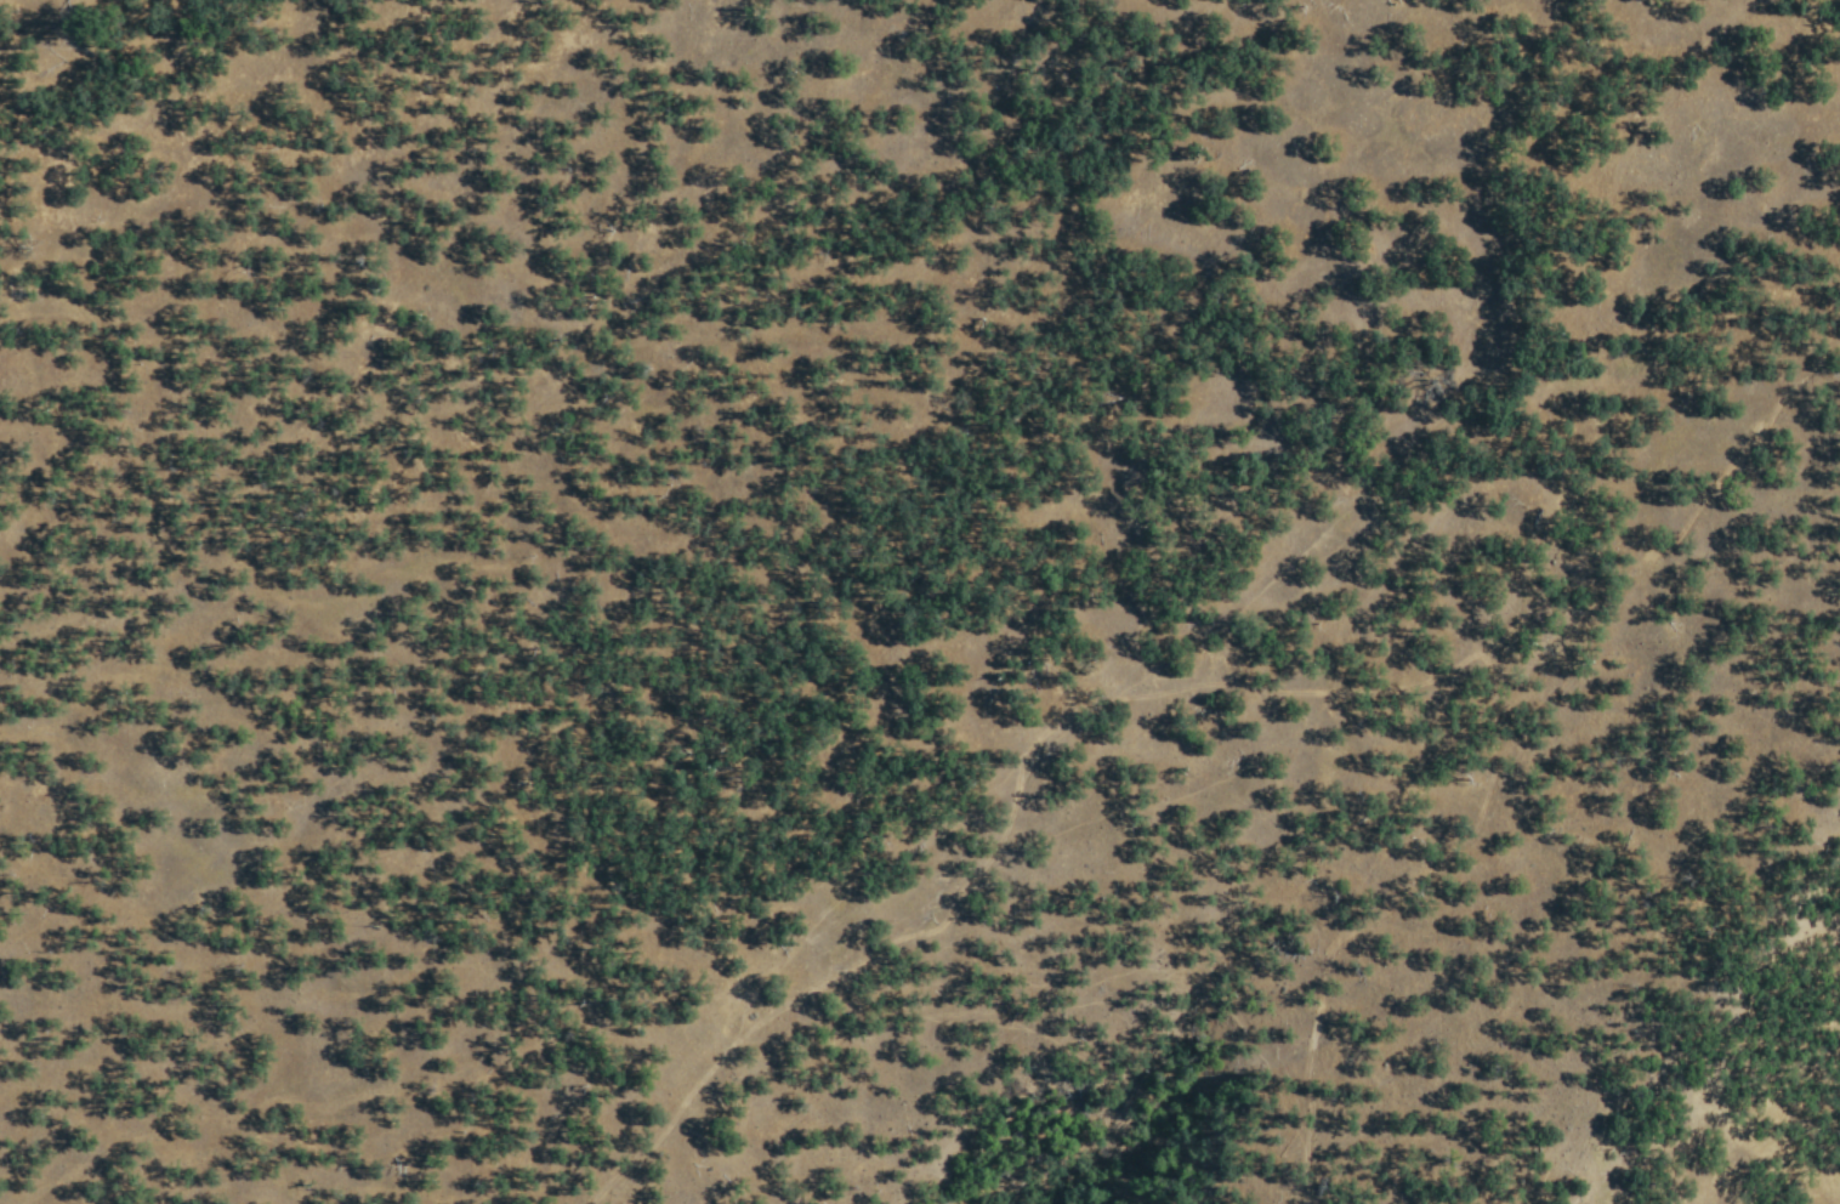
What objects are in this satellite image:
road: (1680, 528)
road: (1006, 818)
road: (601, 1189)

